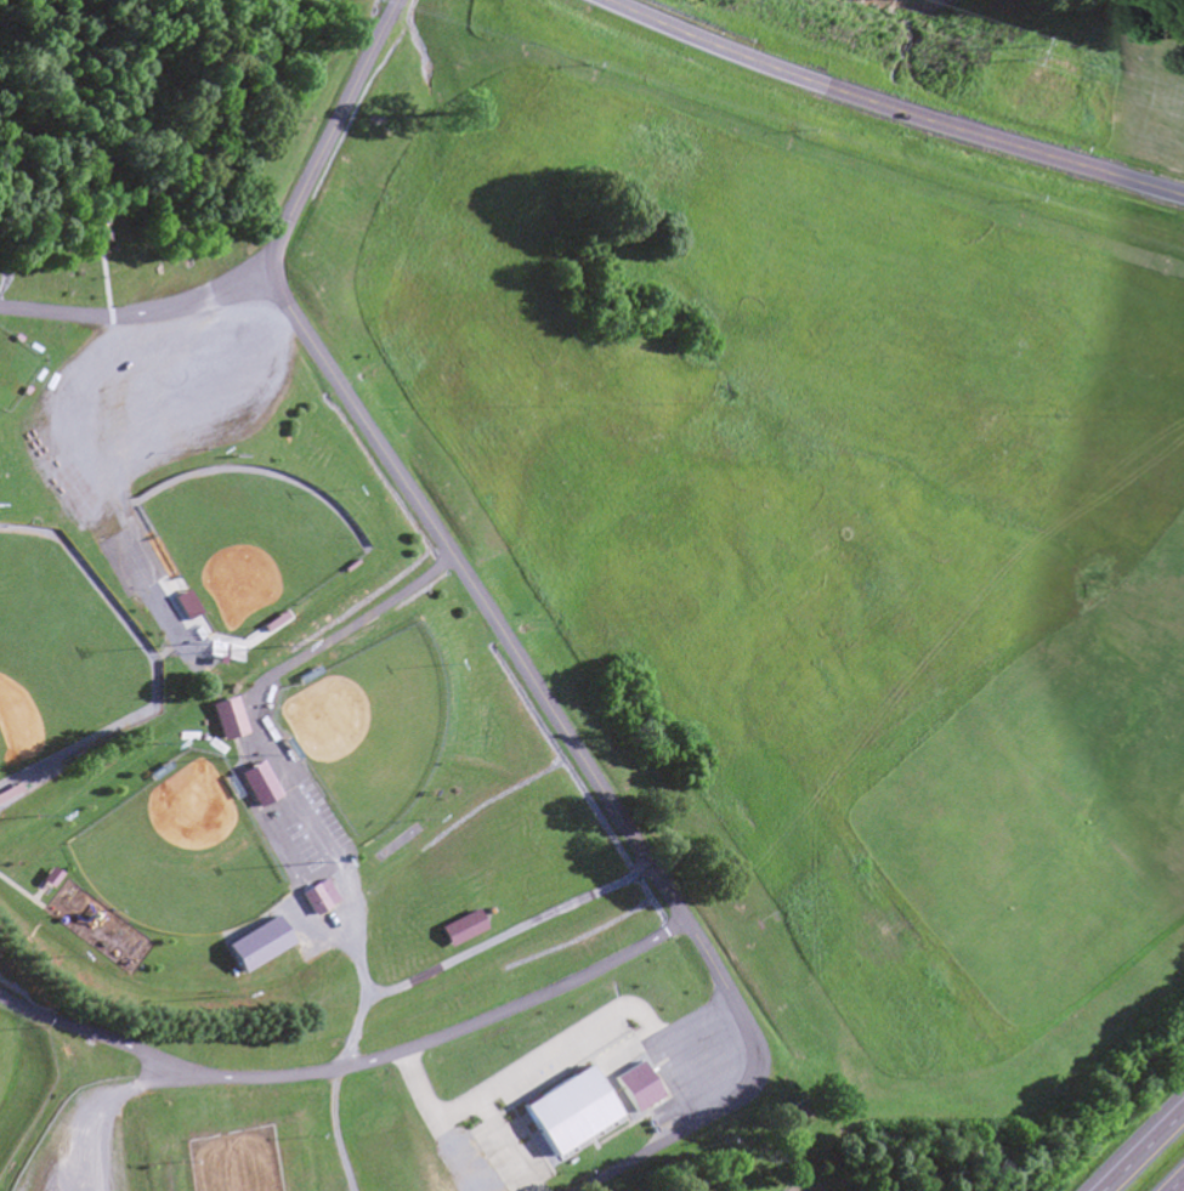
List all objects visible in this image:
road: (888, 108)
road: (140, 312)
park: (13, 369)
parking lot: (165, 389)
road: (397, 471)
park: (248, 541)
park: (63, 663)
building: (227, 720)
park: (367, 727)
road: (261, 742)
building: (257, 786)
building: (10, 794)
park: (180, 853)
building: (319, 898)
building: (460, 930)
building: (259, 947)
road: (476, 947)
parking lot: (702, 1059)
road: (351, 1065)
building: (639, 1087)
road: (743, 1091)
road: (115, 1093)
building: (572, 1112)
road: (338, 1130)
parking lot: (84, 1147)
road: (1144, 1152)
road: (1180, 1187)

